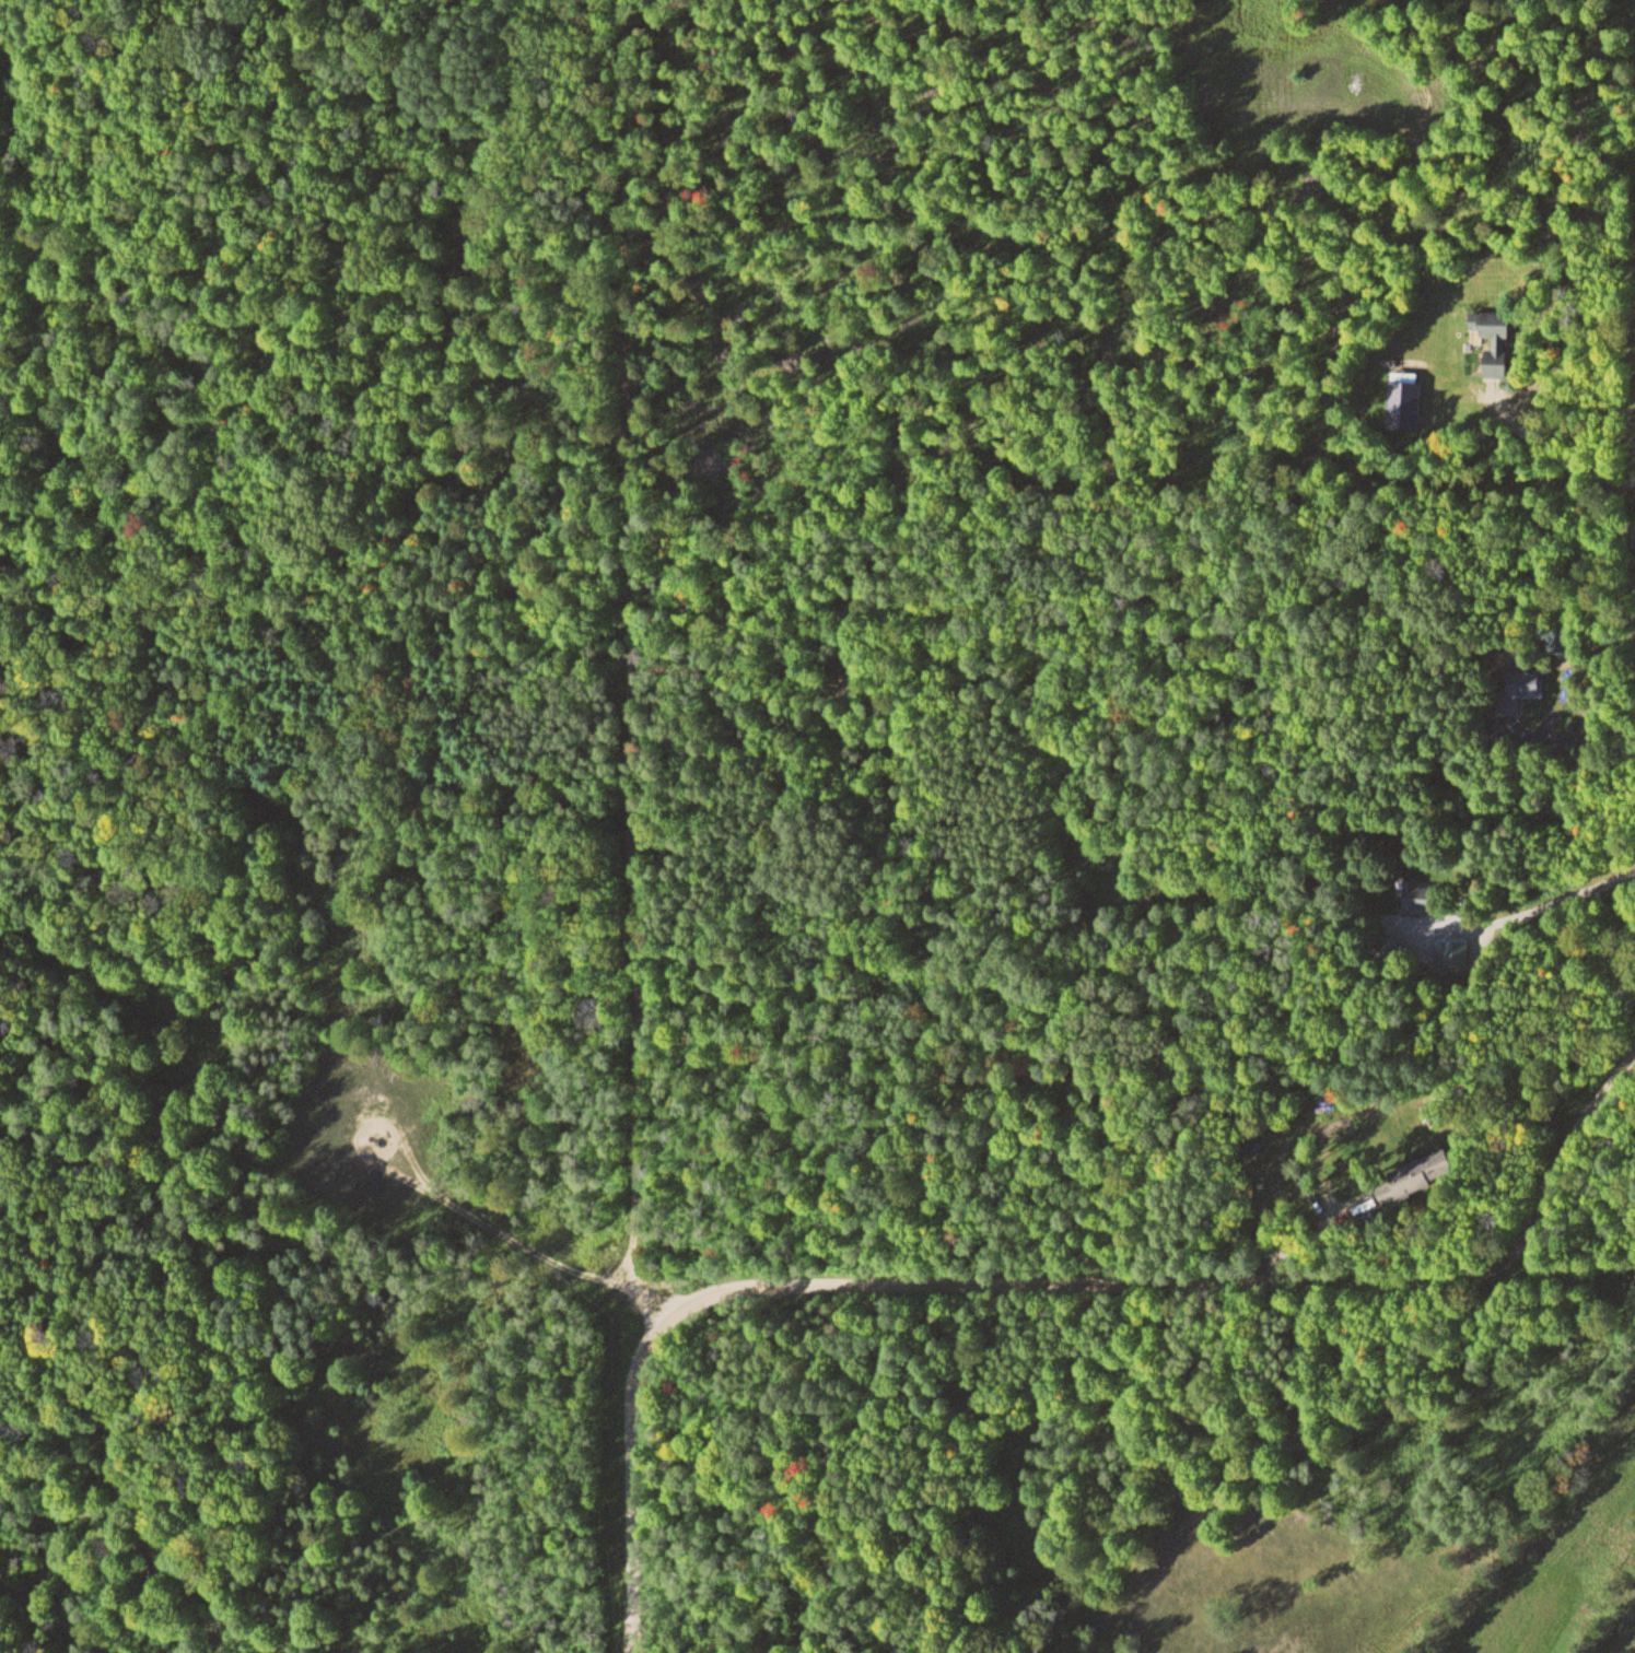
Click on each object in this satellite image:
building: (1502, 340)
building: (1410, 405)
road: (0, 561)
building: (5, 597)
road: (622, 642)
building: (1427, 900)
petroleum well: (374, 1133)
road: (532, 1233)
road: (1039, 1287)
park: (1561, 1541)
road: (58, 1619)

